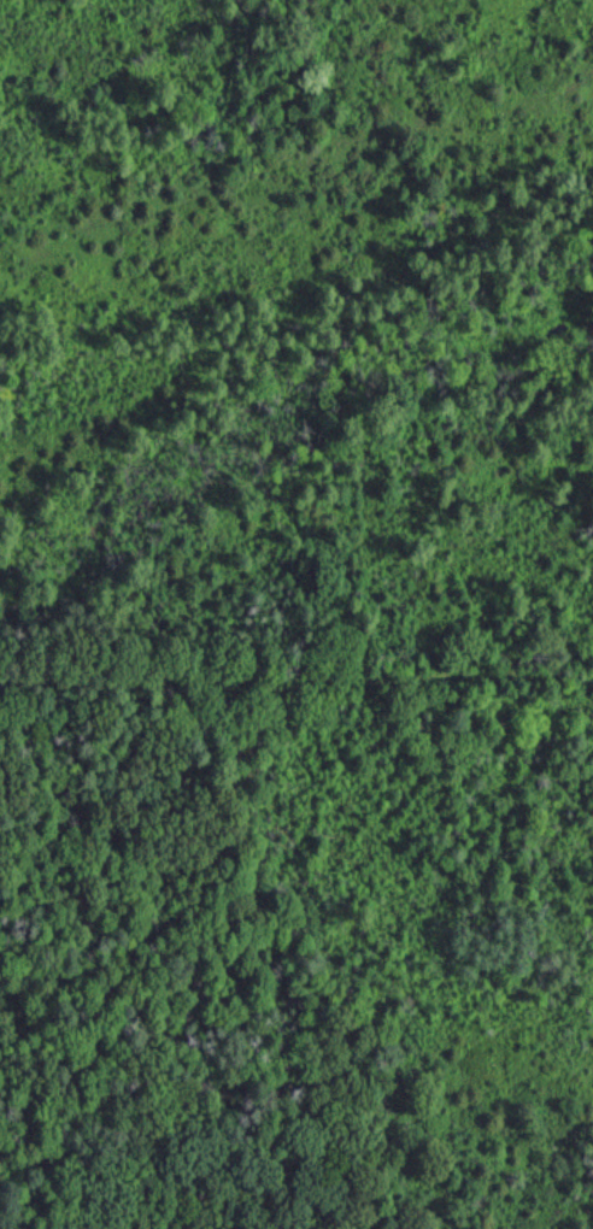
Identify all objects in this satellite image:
road: (296, 687)

